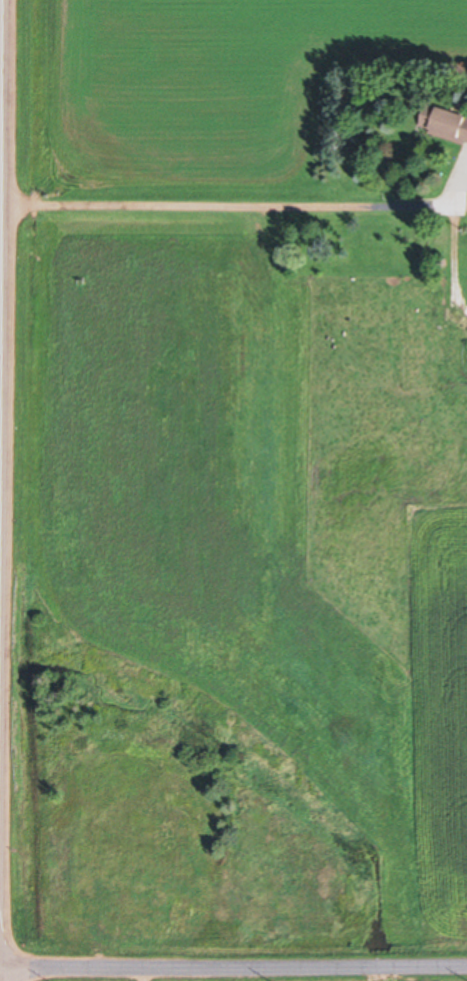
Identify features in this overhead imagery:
road: (0, 5)
building: (447, 122)
road: (233, 968)

